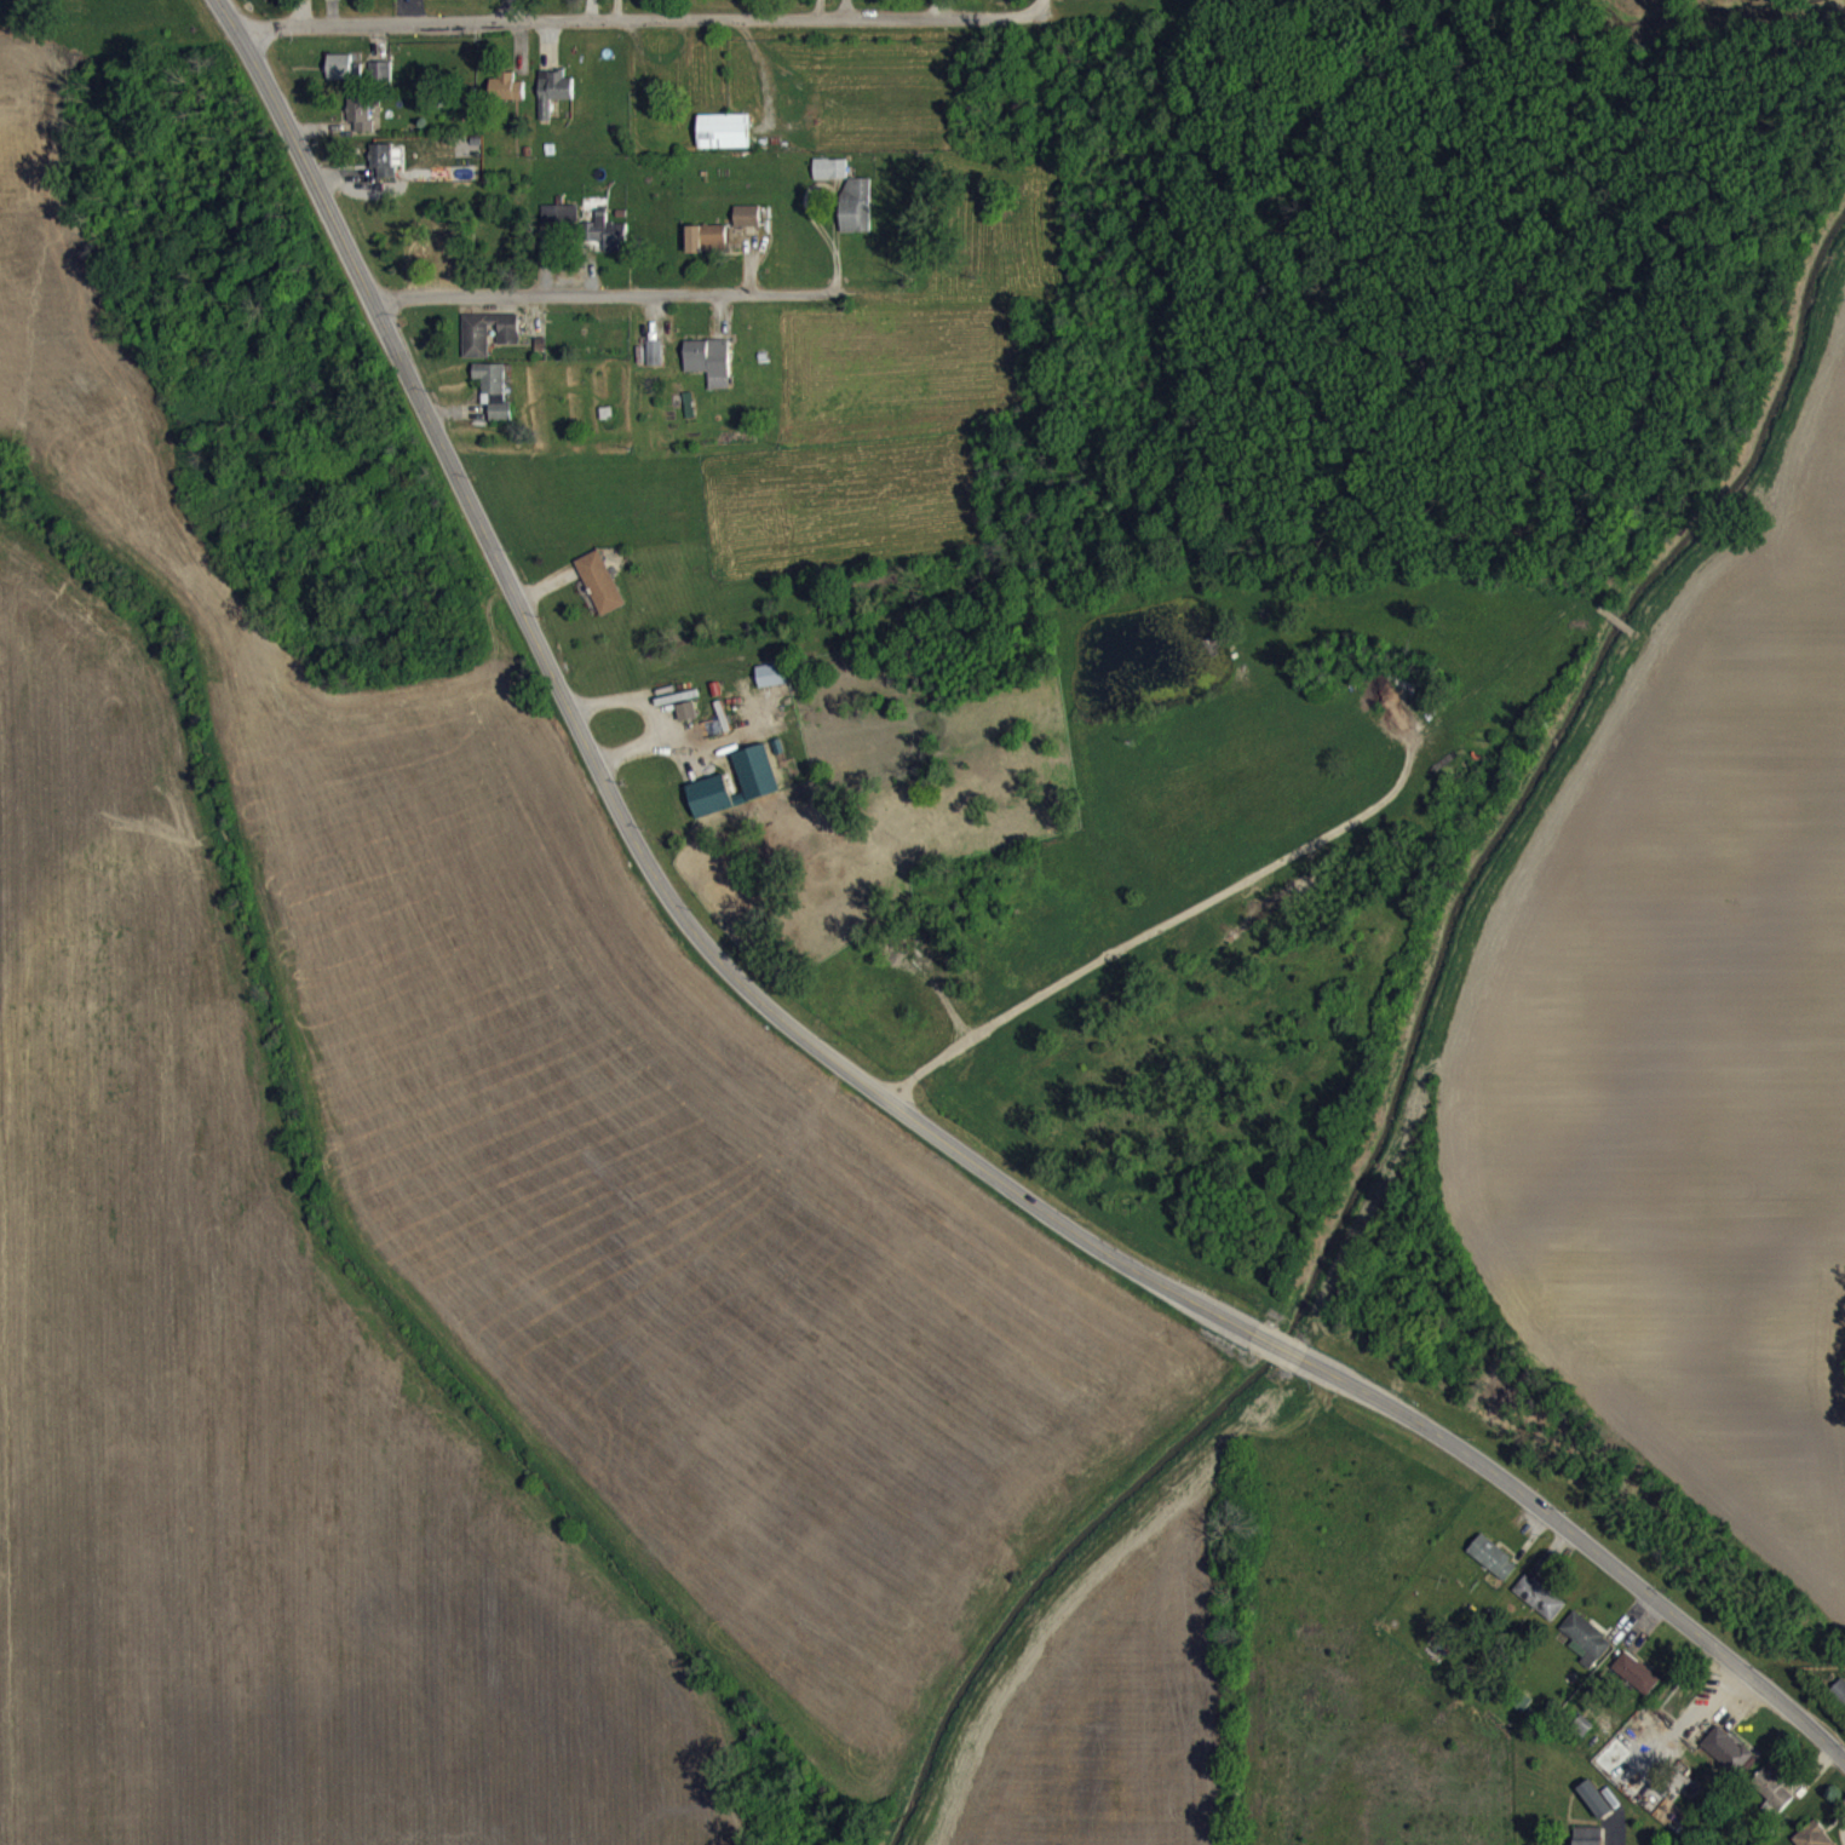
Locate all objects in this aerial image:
road: (1036, 2)
road: (510, 10)
road: (639, 19)
building: (344, 77)
building: (380, 84)
building: (506, 99)
building: (553, 102)
building: (361, 125)
building: (724, 142)
building: (385, 171)
building: (830, 180)
building: (856, 217)
building: (562, 226)
building: (747, 228)
building: (707, 249)
building: (427, 260)
road: (602, 293)
building: (488, 344)
building: (654, 363)
building: (707, 368)
building: (494, 402)
building: (600, 593)
building: (774, 685)
building: (686, 723)
road: (602, 777)
building: (759, 791)
road: (1202, 902)
road: (919, 1071)
road: (1278, 1344)
road: (1586, 1542)
building: (1493, 1569)
building: (1540, 1608)
building: (1585, 1650)
building: (1637, 1684)
building: (1730, 1763)
building: (1636, 1792)
building: (1774, 1800)
building: (1596, 1811)
building: (1812, 1840)
building: (1588, 1841)

